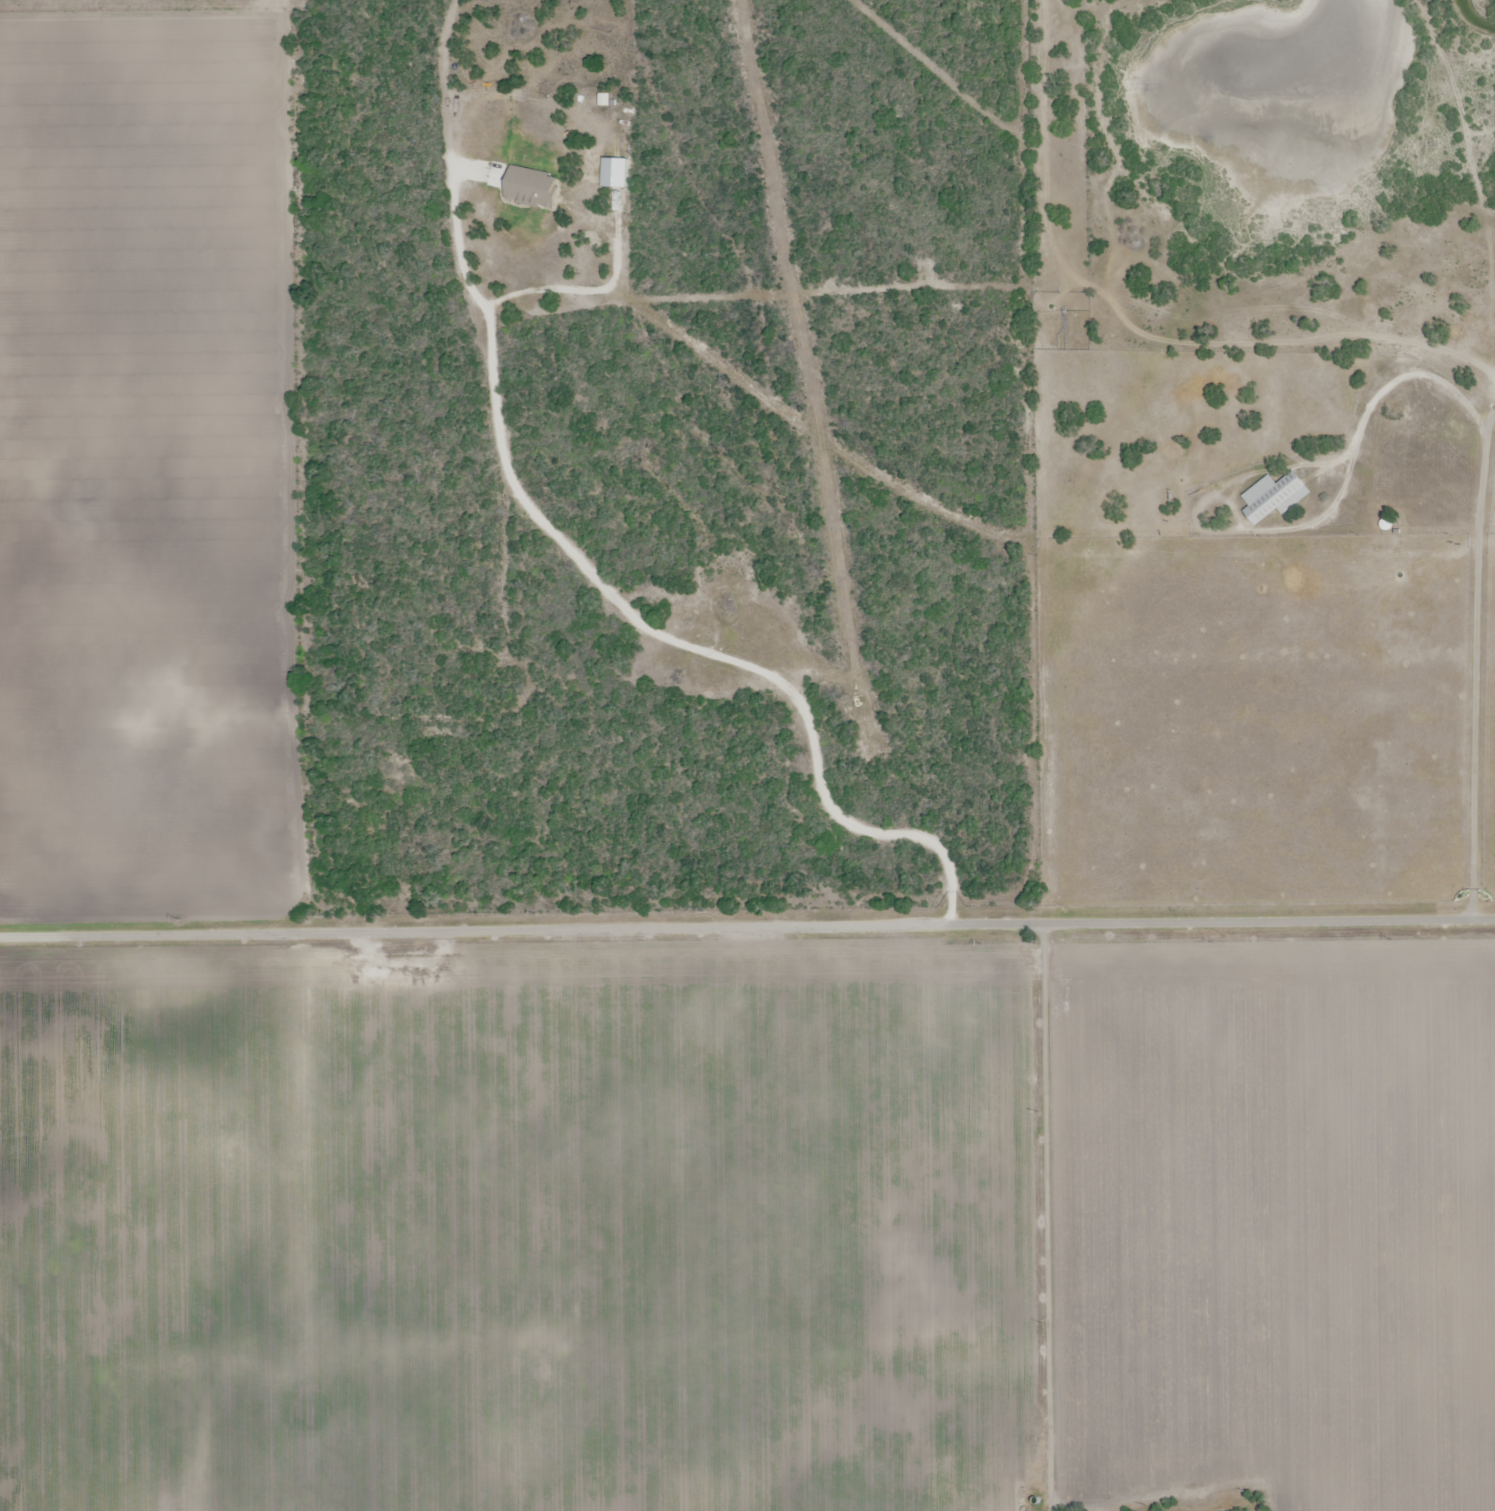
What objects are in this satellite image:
building: (1274, 496)
road: (625, 612)
road: (908, 925)
road: (161, 939)
road: (1047, 1217)

